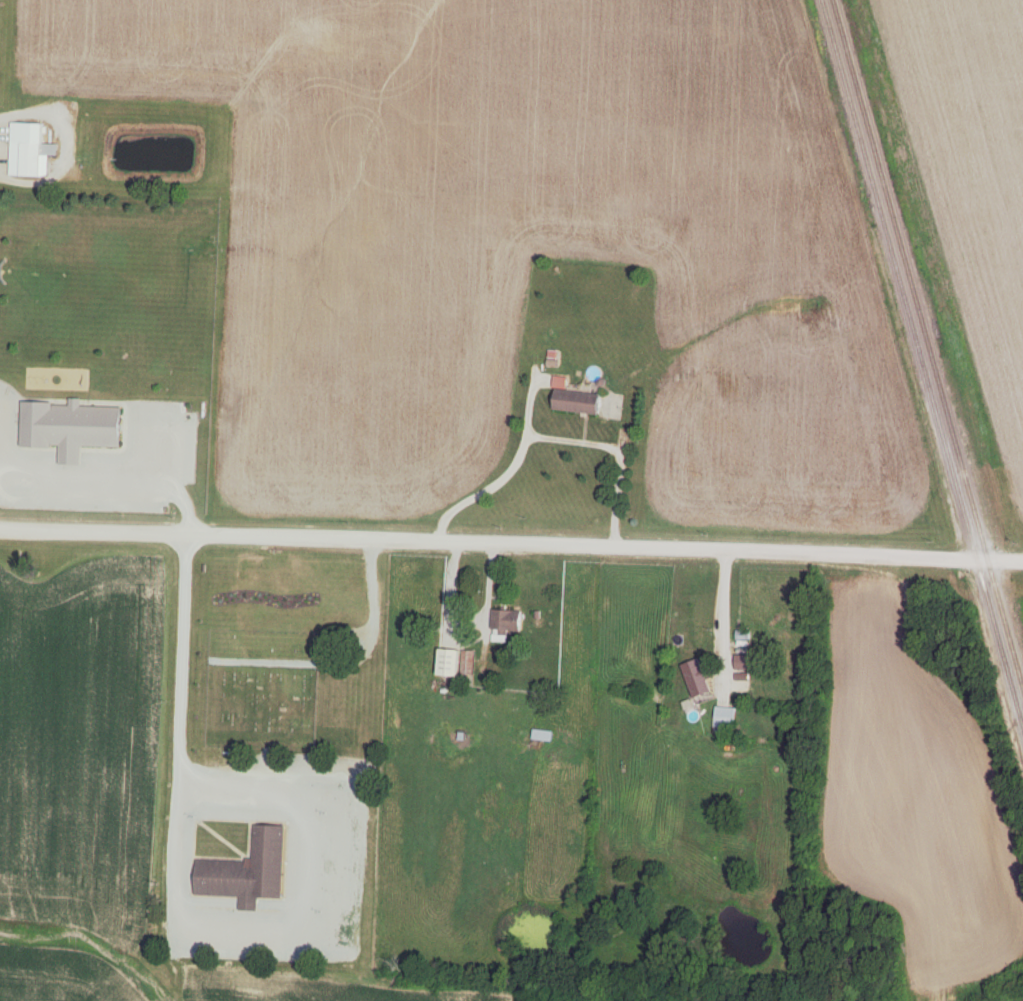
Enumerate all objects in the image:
building: (30, 150)
railway: (926, 345)
railway: (921, 366)
building: (578, 402)
building: (71, 428)
road: (621, 463)
road: (511, 544)
road: (185, 594)
road: (367, 622)
road: (726, 624)
building: (505, 625)
building: (457, 663)
building: (696, 678)
park: (261, 689)
building: (725, 718)
building: (543, 736)
building: (248, 871)
road: (175, 929)

